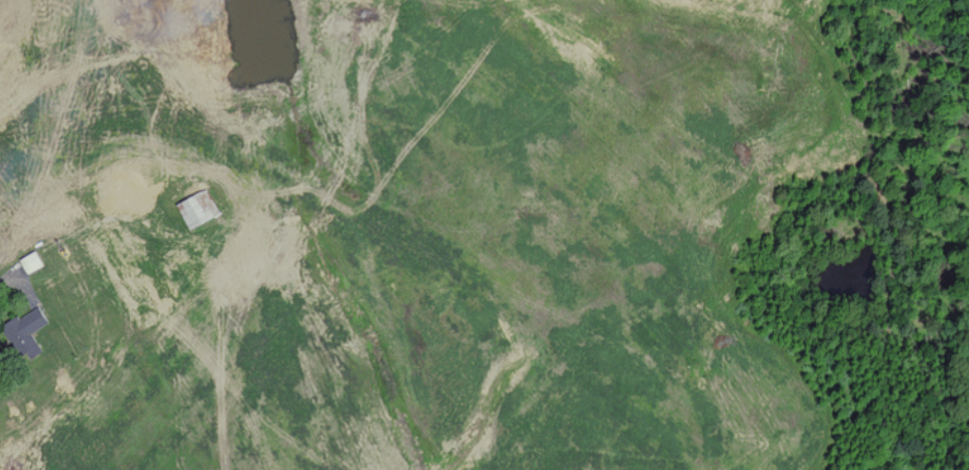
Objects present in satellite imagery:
building: (197, 208)
building: (25, 332)

